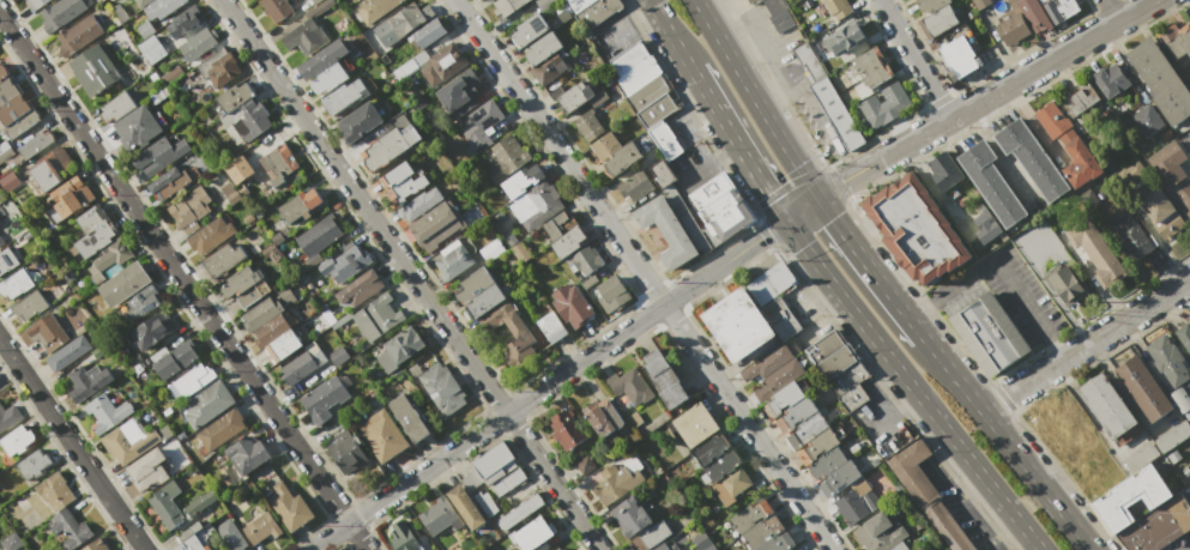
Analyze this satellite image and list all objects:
building: (485, 0)
building: (489, 0)
building: (315, 1)
building: (753, 1)
building: (1041, 1)
building: (140, 2)
building: (580, 2)
building: (35, 4)
building: (542, 4)
building: (930, 4)
building: (979, 4)
building: (507, 6)
building: (161, 8)
building: (319, 8)
building: (838, 8)
building: (1059, 8)
building: (278, 10)
building: (374, 10)
building: (597, 11)
road: (1111, 11)
building: (61, 12)
building: (778, 14)
building: (1033, 14)
building: (937, 20)
road: (633, 22)
building: (185, 23)
building: (395, 25)
building: (144, 29)
building: (1011, 29)
building: (528, 30)
building: (428, 32)
road: (670, 34)
building: (78, 36)
building: (306, 37)
building: (844, 38)
building: (1176, 40)
building: (197, 44)
building: (543, 48)
building: (151, 49)
building: (958, 56)
building: (629, 58)
building: (322, 59)
building: (808, 61)
road: (914, 61)
building: (442, 65)
building: (871, 67)
building: (93, 68)
building: (548, 68)
building: (223, 69)
building: (2, 71)
building: (171, 75)
building: (638, 75)
building: (328, 78)
building: (0, 80)
building: (1110, 80)
building: (1159, 80)
road: (795, 85)
building: (7, 90)
building: (647, 92)
building: (460, 93)
building: (346, 95)
building: (235, 96)
building: (580, 97)
building: (1080, 98)
road: (987, 99)
road: (757, 101)
building: (886, 104)
building: (116, 108)
building: (13, 109)
building: (657, 109)
building: (836, 113)
building: (1146, 119)
building: (246, 120)
building: (360, 122)
building: (20, 123)
building: (587, 126)
building: (481, 127)
building: (137, 128)
building: (664, 139)
building: (34, 145)
road: (737, 145)
building: (1068, 145)
building: (387, 147)
building: (5, 150)
building: (614, 155)
building: (159, 156)
building: (506, 158)
building: (1031, 158)
road: (711, 162)
building: (1167, 163)
building: (278, 164)
building: (1109, 167)
building: (52, 168)
building: (236, 168)
building: (944, 170)
building: (1134, 171)
building: (660, 174)
building: (405, 180)
building: (521, 180)
building: (168, 183)
building: (991, 183)
building: (1140, 183)
building: (635, 189)
building: (230, 192)
building: (1183, 197)
building: (67, 198)
traffic signals: (820, 200)
building: (419, 204)
building: (300, 205)
building: (533, 205)
building: (720, 205)
building: (192, 207)
road: (802, 210)
building: (1160, 211)
building: (499, 217)
building: (248, 218)
building: (689, 220)
traffic signals: (784, 220)
building: (436, 225)
building: (985, 225)
building: (914, 229)
building: (666, 230)
building: (92, 232)
building: (210, 235)
building: (279, 235)
building: (563, 235)
building: (318, 236)
building: (1130, 236)
building: (1, 241)
building: (491, 249)
building: (518, 249)
building: (1095, 250)
building: (107, 259)
building: (222, 259)
building: (7, 260)
building: (453, 260)
building: (586, 260)
building: (344, 262)
road: (871, 268)
road: (999, 268)
road: (409, 274)
road: (640, 274)
building: (303, 277)
road: (183, 282)
building: (769, 283)
building: (16, 284)
building: (123, 284)
building: (241, 285)
building: (1067, 285)
road: (1049, 286)
building: (360, 289)
building: (611, 292)
building: (478, 294)
building: (143, 302)
building: (29, 304)
building: (572, 306)
building: (260, 313)
building: (376, 316)
building: (780, 318)
building: (737, 324)
building: (551, 327)
building: (511, 328)
building: (152, 330)
building: (271, 330)
building: (47, 332)
building: (989, 333)
building: (1183, 334)
building: (284, 345)
road: (1086, 345)
building: (823, 346)
building: (395, 347)
building: (68, 352)
building: (338, 355)
building: (174, 357)
building: (836, 361)
building: (1168, 361)
building: (303, 362)
building: (766, 362)
building: (847, 376)
building: (664, 379)
building: (778, 379)
building: (87, 381)
building: (189, 381)
road: (546, 385)
building: (630, 385)
road: (912, 386)
building: (1142, 388)
building: (441, 389)
building: (785, 397)
building: (324, 398)
building: (851, 398)
building: (1182, 401)
building: (206, 404)
building: (1107, 405)
building: (797, 411)
building: (822, 411)
building: (105, 412)
building: (1176, 413)
building: (8, 416)
building: (409, 417)
building: (604, 417)
building: (634, 418)
building: (695, 424)
building: (221, 429)
building: (566, 429)
building: (805, 429)
building: (165, 431)
building: (381, 435)
building: (1172, 437)
building: (17, 440)
building: (128, 441)
building: (820, 442)
road: (1008, 442)
road: (71, 446)
building: (346, 452)
building: (247, 454)
building: (1172, 457)
building: (1140, 458)
building: (695, 459)
building: (826, 461)
building: (34, 464)
building: (585, 465)
building: (719, 465)
building: (149, 470)
building: (494, 470)
building: (1186, 470)
building: (839, 478)
building: (615, 483)
building: (730, 485)
building: (55, 490)
building: (1189, 490)
building: (925, 492)
building: (1130, 496)
building: (852, 501)
building: (199, 502)
building: (485, 503)
building: (165, 504)
building: (290, 507)
building: (465, 507)
building: (519, 512)
building: (749, 515)
building: (440, 516)
building: (629, 516)
building: (260, 527)
building: (70, 528)
building: (761, 532)
building: (533, 533)
building: (878, 533)
building: (229, 536)
building: (404, 537)
building: (648, 537)
building: (701, 540)
building: (11, 542)
building: (777, 542)
building: (191, 544)
building: (96, 545)
building: (664, 546)
building: (899, 546)
building: (2, 548)
building: (708, 548)
road: (1186, 548)
building: (557, 549)
building: (792, 549)
building: (1007, 549)

